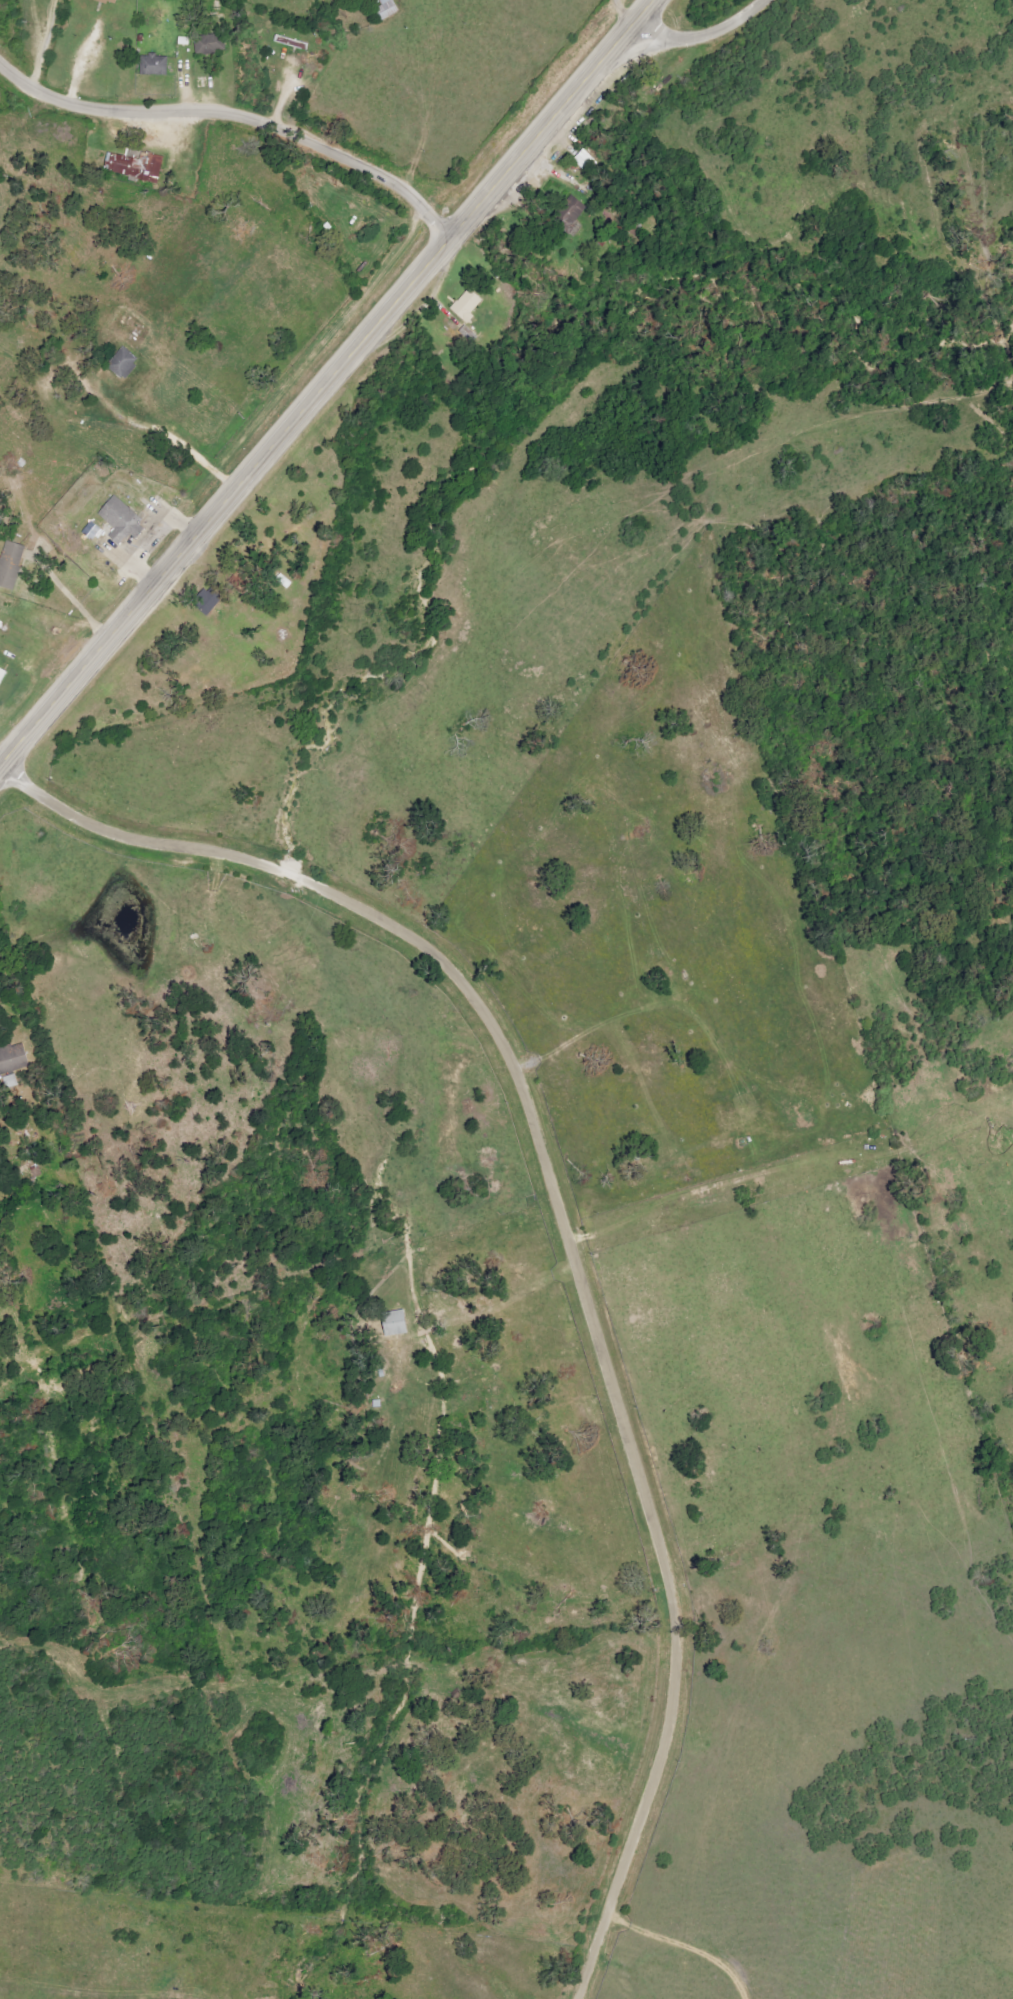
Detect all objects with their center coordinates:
building: (110, 1)
building: (387, 9)
road: (630, 11)
road: (708, 39)
building: (291, 42)
building: (207, 44)
road: (48, 46)
building: (154, 65)
road: (238, 117)
building: (136, 166)
building: (570, 213)
building: (468, 305)
building: (123, 363)
road: (328, 386)
building: (121, 520)
building: (93, 531)
building: (11, 564)
building: (209, 601)
building: (2, 675)
building: (13, 1059)
road: (568, 1237)
building: (395, 1323)

